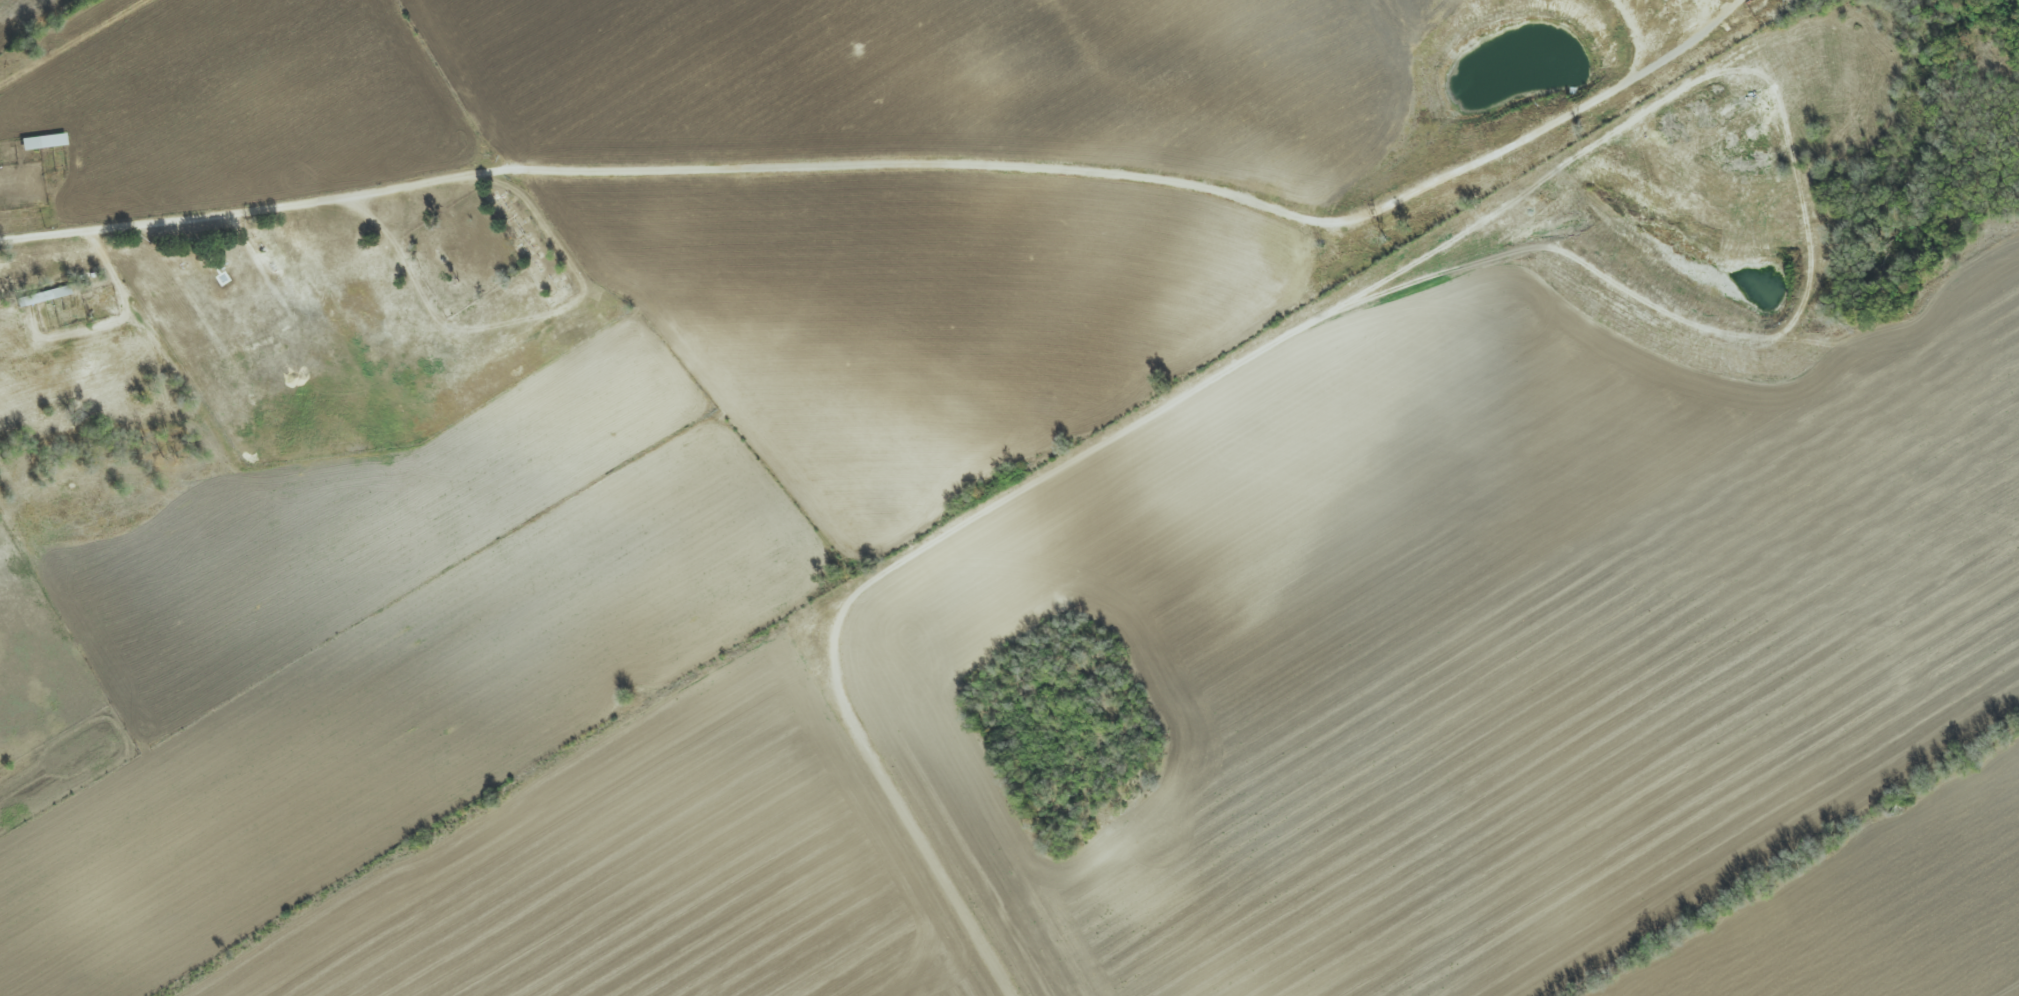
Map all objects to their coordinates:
crop: (949, 81)
crop: (239, 104)
road: (899, 163)
crop: (925, 317)
crop: (370, 647)

